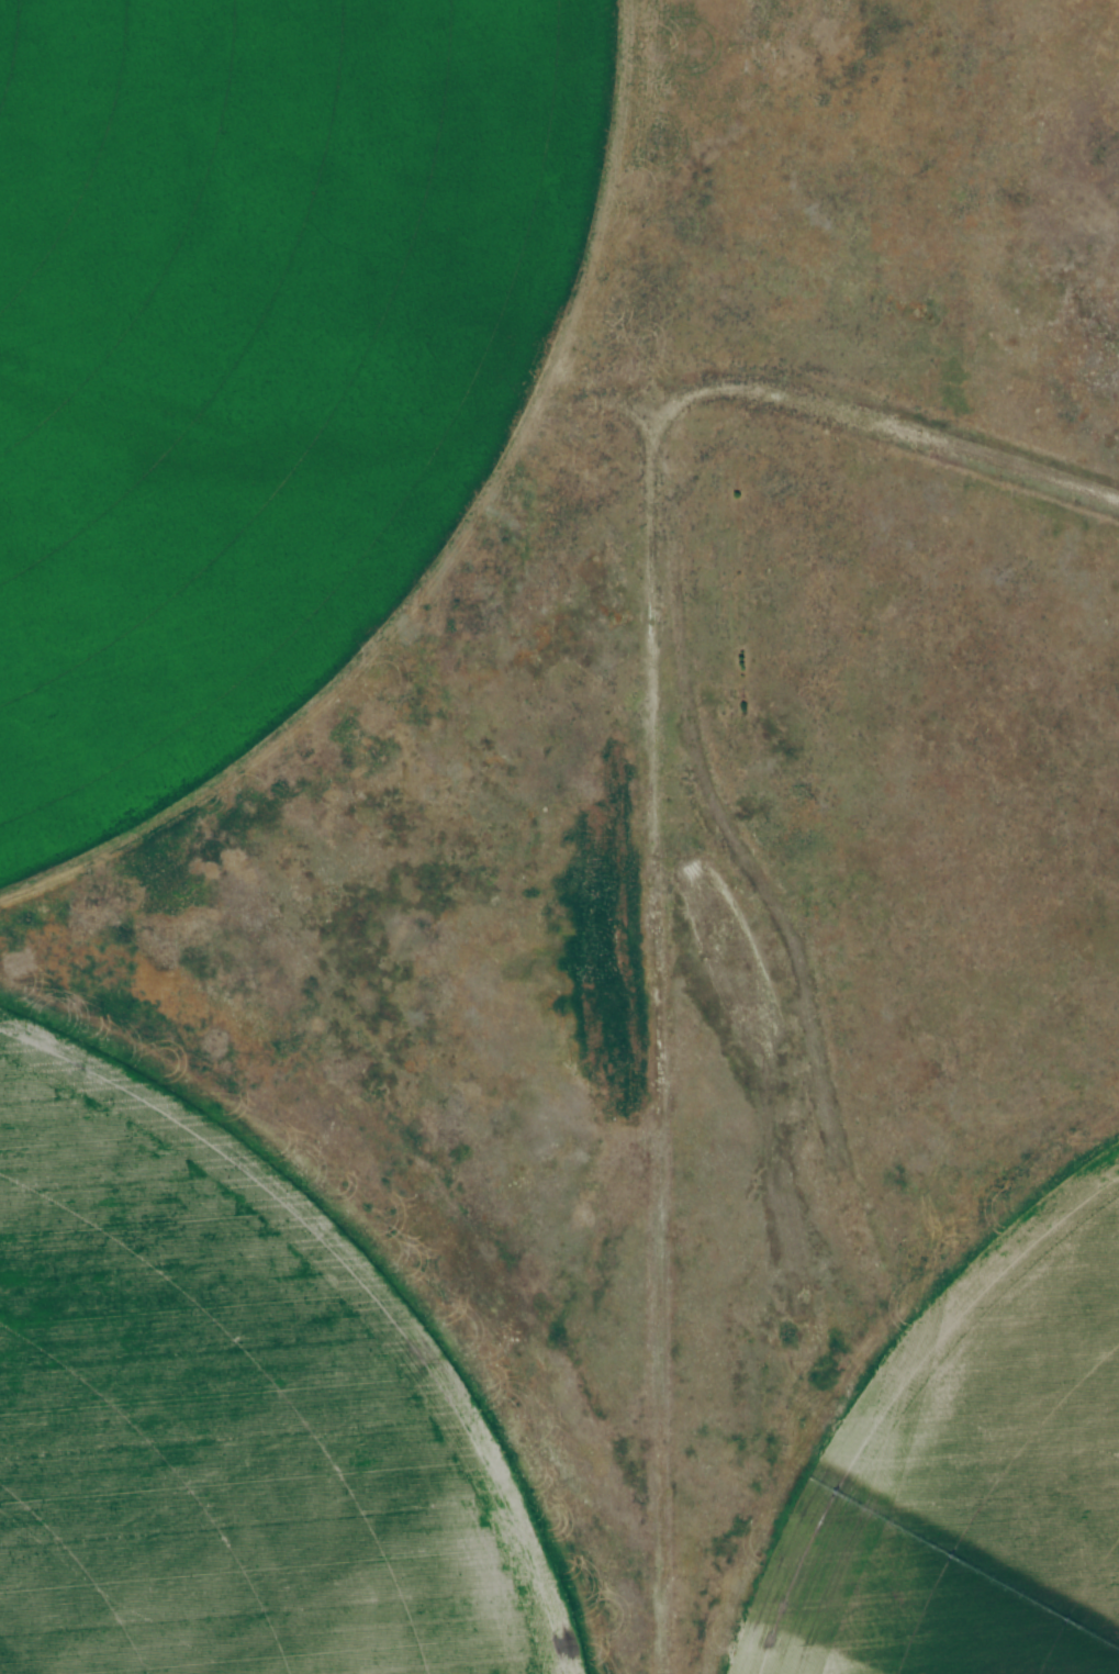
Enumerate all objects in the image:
crop: (258, 360)
crop: (222, 1421)
crop: (967, 1469)

